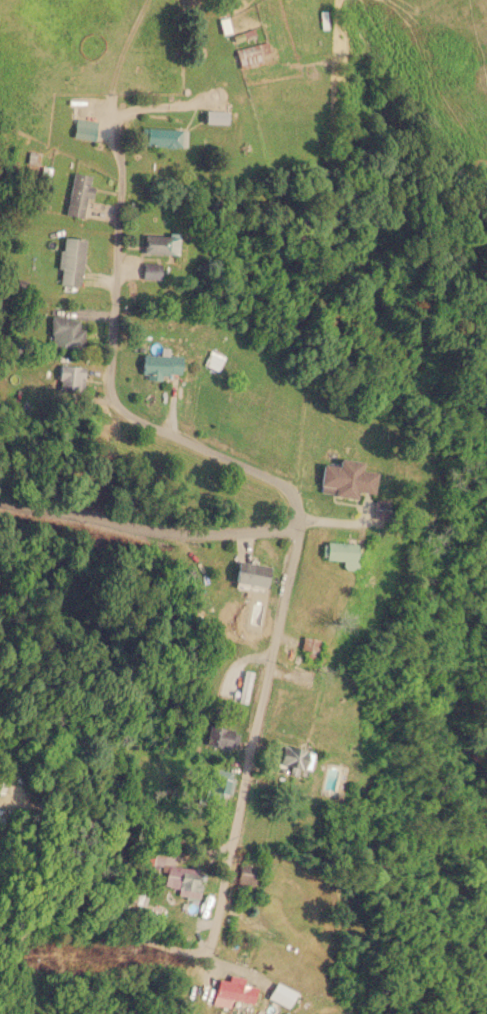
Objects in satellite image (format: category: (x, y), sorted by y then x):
building: (242, 37)
building: (249, 55)
building: (213, 118)
building: (79, 129)
building: (161, 138)
building: (77, 194)
building: (156, 243)
building: (71, 260)
building: (150, 269)
building: (66, 330)
building: (212, 359)
building: (157, 365)
building: (69, 377)
building: (344, 478)
road: (236, 548)
building: (340, 552)
building: (251, 573)
building: (309, 645)
road: (251, 647)
building: (245, 686)
building: (220, 737)
building: (294, 759)
building: (217, 786)
road: (98, 819)
building: (246, 875)
building: (189, 881)
building: (233, 991)
building: (279, 994)

